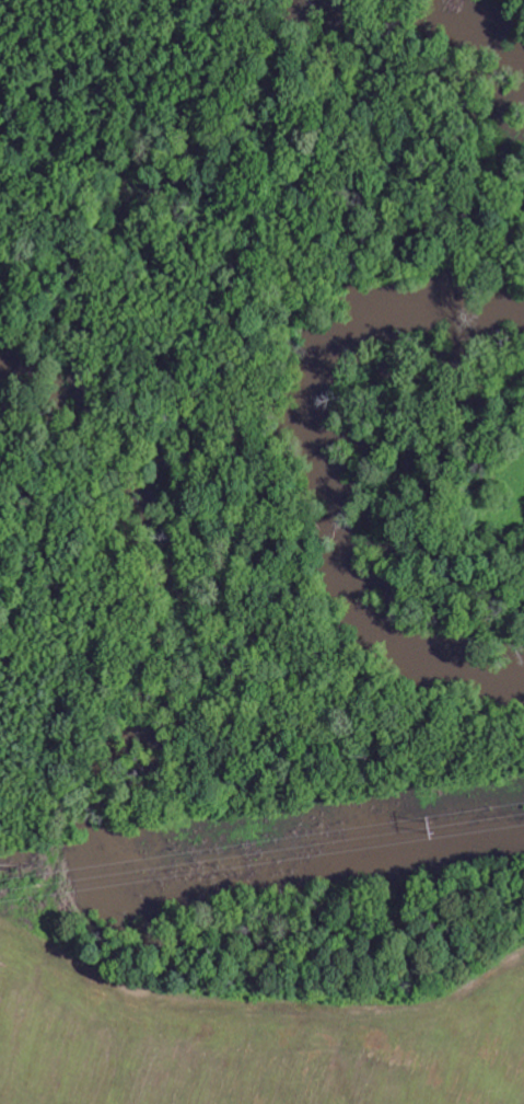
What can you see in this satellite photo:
river: (493, 30)
river: (325, 463)
power tower: (434, 826)

